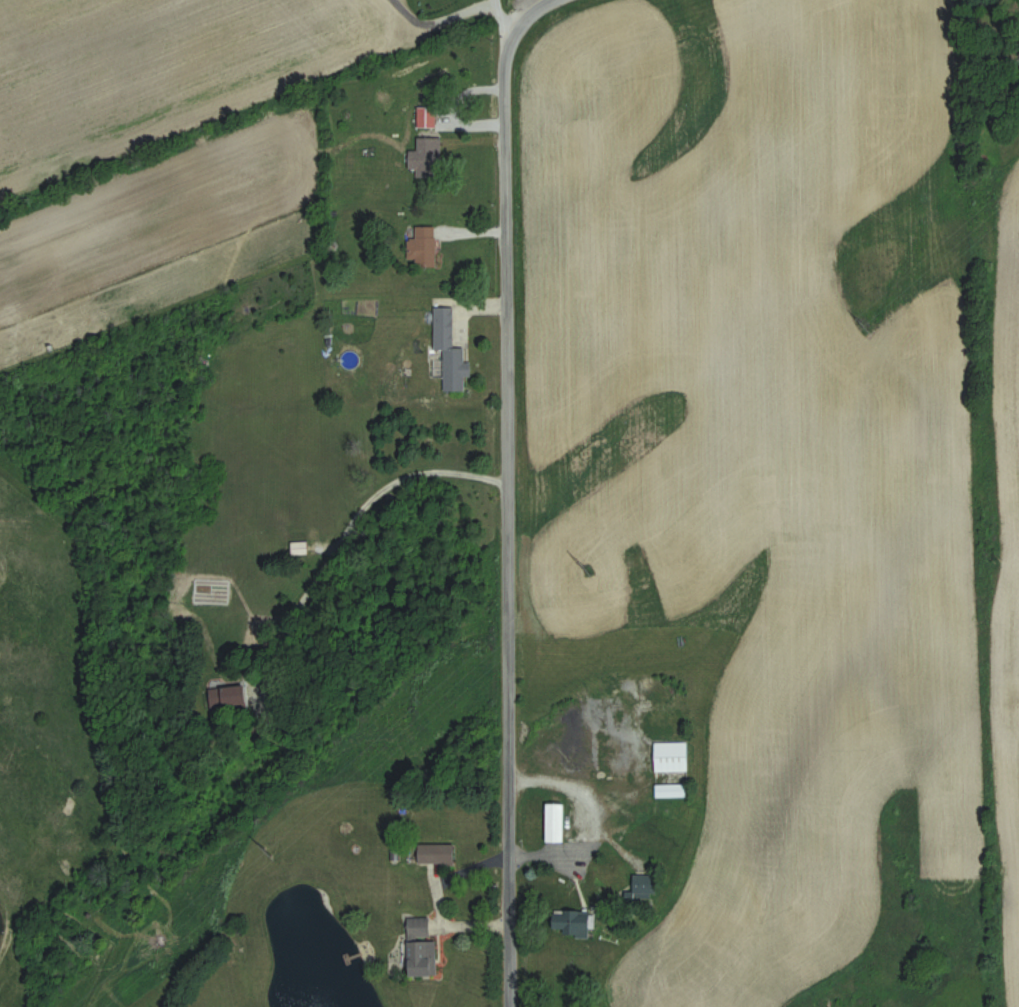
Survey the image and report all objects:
road: (531, 12)
road: (499, 17)
building: (426, 116)
building: (426, 157)
building: (422, 245)
building: (450, 349)
road: (508, 480)
road: (342, 546)
building: (228, 695)
building: (670, 756)
road: (563, 782)
building: (670, 791)
building: (555, 822)
building: (436, 853)
building: (645, 885)
road: (432, 903)
building: (572, 922)
building: (421, 947)
road: (505, 969)

